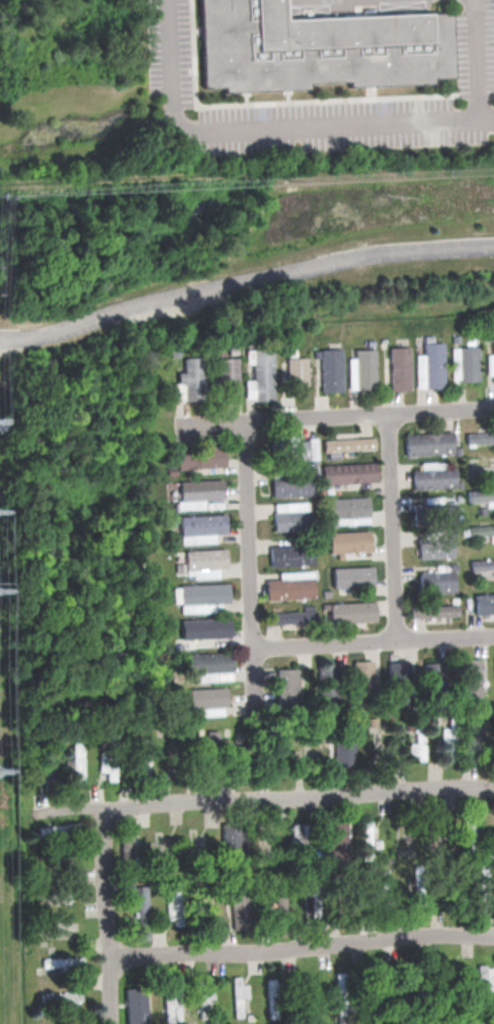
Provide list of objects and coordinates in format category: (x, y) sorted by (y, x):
building: (318, 47)
road: (477, 61)
road: (273, 131)
road: (244, 279)
building: (465, 363)
building: (490, 363)
building: (430, 365)
building: (399, 368)
building: (362, 369)
building: (331, 370)
building: (296, 371)
building: (259, 375)
building: (227, 376)
building: (190, 379)
road: (336, 417)
road: (389, 436)
building: (481, 436)
building: (429, 443)
building: (348, 444)
building: (297, 448)
building: (199, 458)
building: (432, 465)
building: (349, 473)
building: (434, 478)
building: (291, 484)
building: (481, 496)
building: (348, 507)
building: (434, 511)
building: (289, 517)
building: (199, 528)
building: (481, 529)
building: (349, 542)
building: (435, 547)
road: (391, 550)
building: (289, 554)
building: (202, 562)
building: (482, 564)
road: (249, 569)
building: (351, 576)
building: (436, 581)
building: (288, 586)
building: (484, 603)
building: (433, 610)
building: (351, 612)
building: (292, 618)
building: (203, 628)
road: (445, 639)
road: (324, 646)
building: (207, 666)
building: (397, 672)
building: (362, 675)
building: (469, 678)
building: (285, 687)
building: (206, 701)
building: (417, 741)
building: (342, 746)
road: (299, 798)
road: (70, 811)
building: (336, 843)
building: (128, 847)
building: (277, 902)
building: (173, 910)
building: (239, 910)
road: (107, 916)
road: (302, 947)
building: (484, 979)
building: (204, 994)
building: (62, 998)
building: (170, 1004)
building: (136, 1005)

